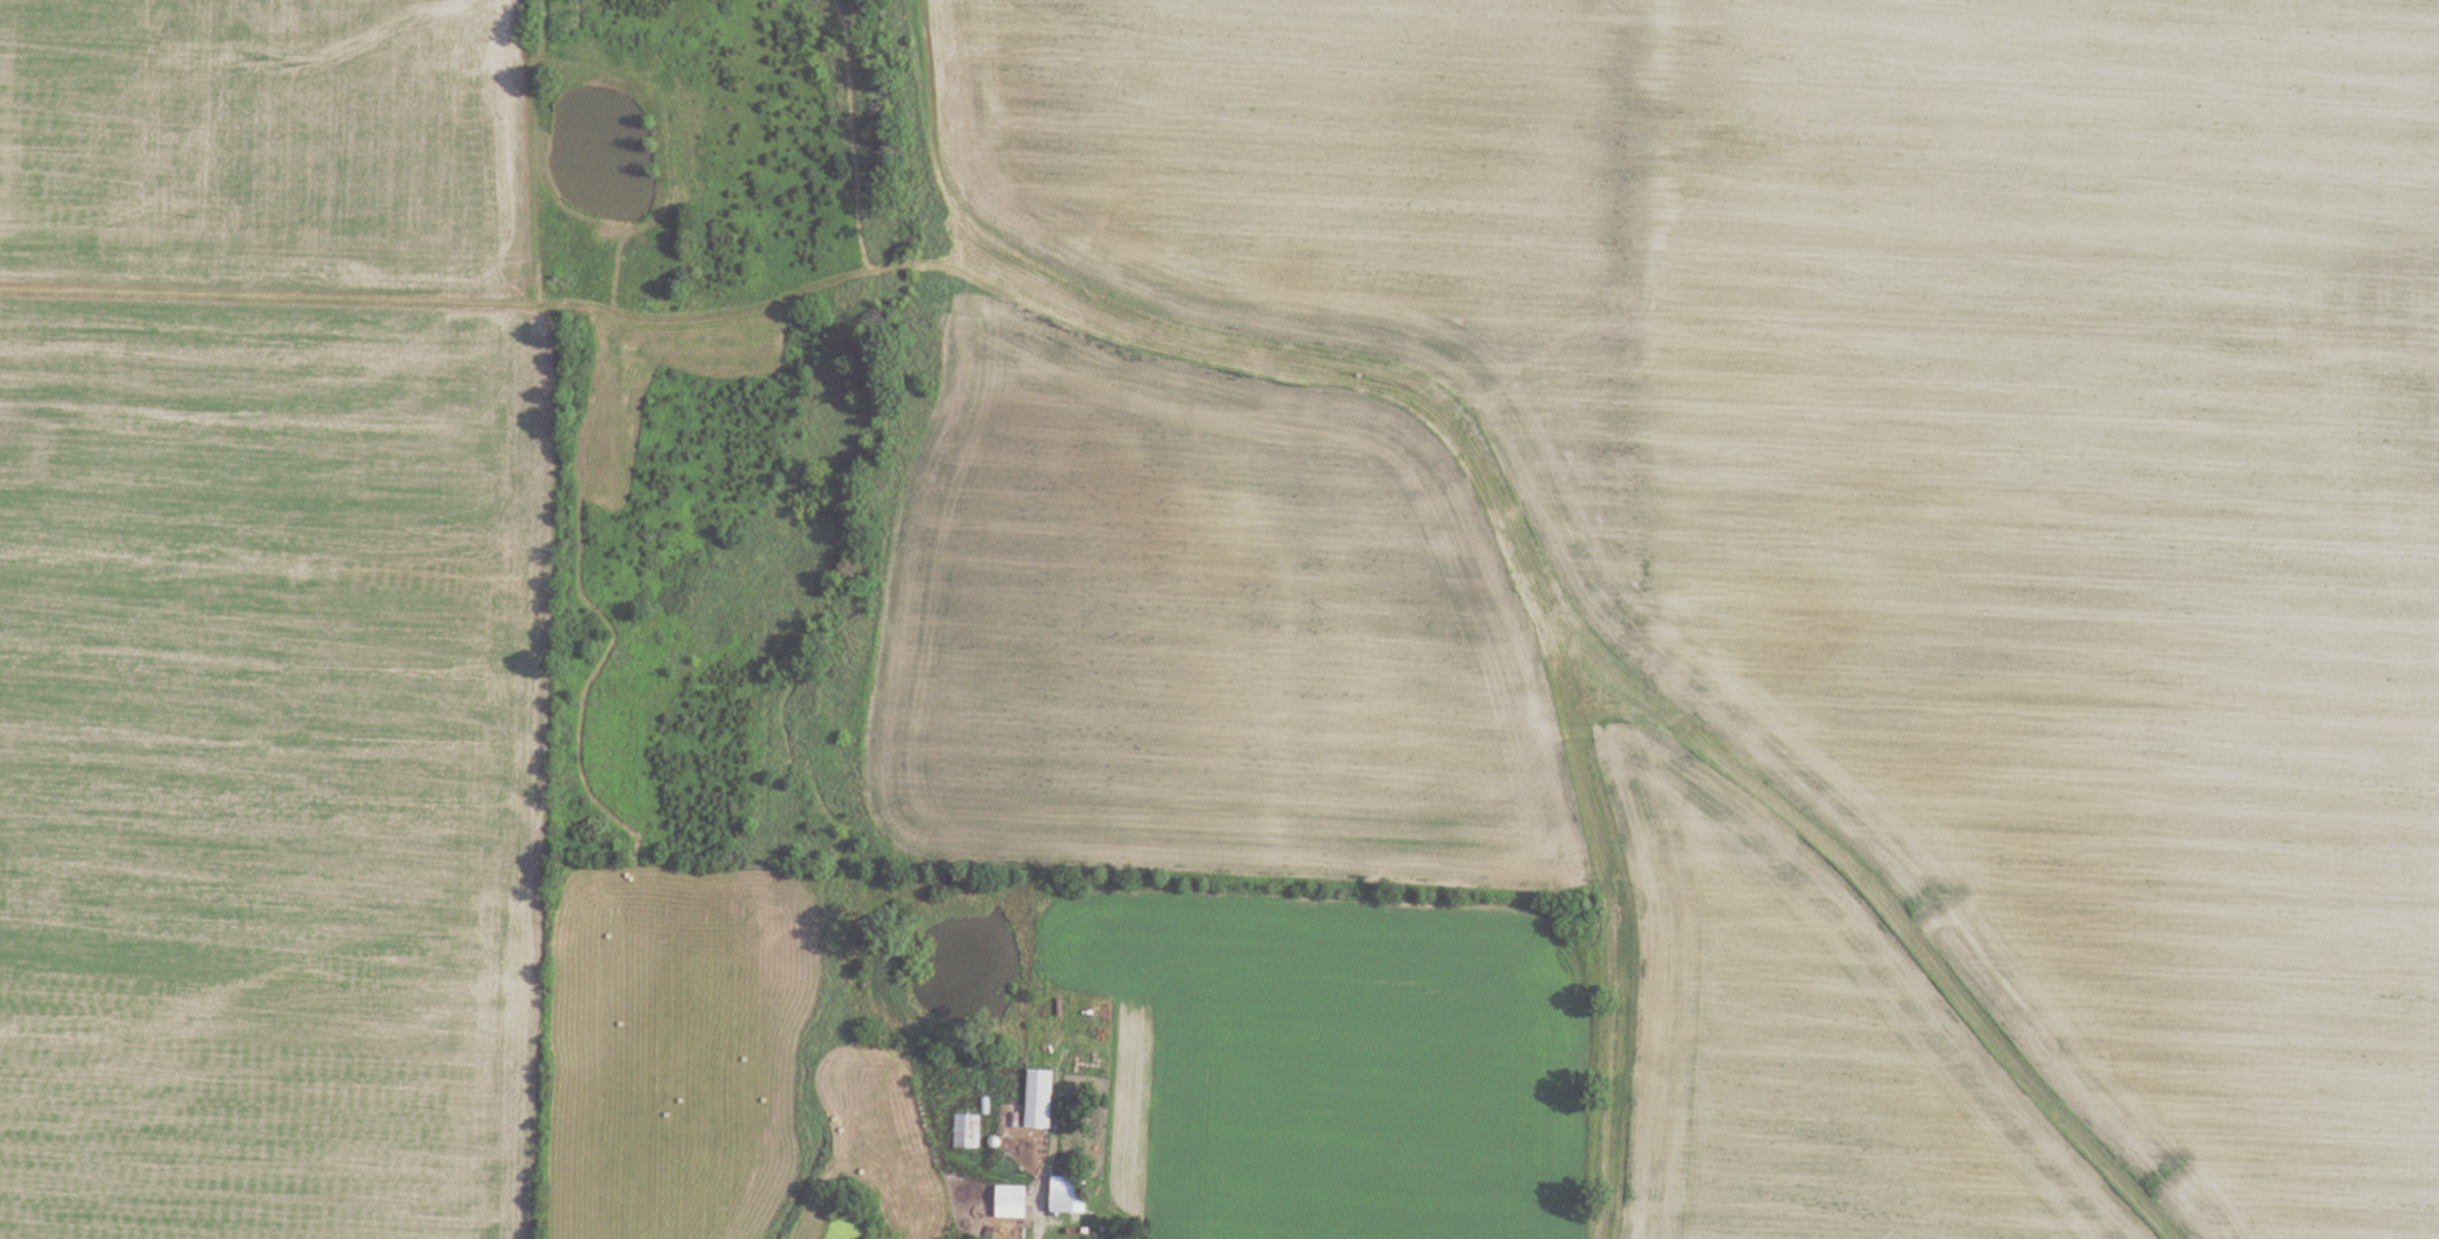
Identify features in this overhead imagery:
building: (966, 1131)
road: (1031, 1189)
building: (1068, 1194)
building: (1010, 1201)

